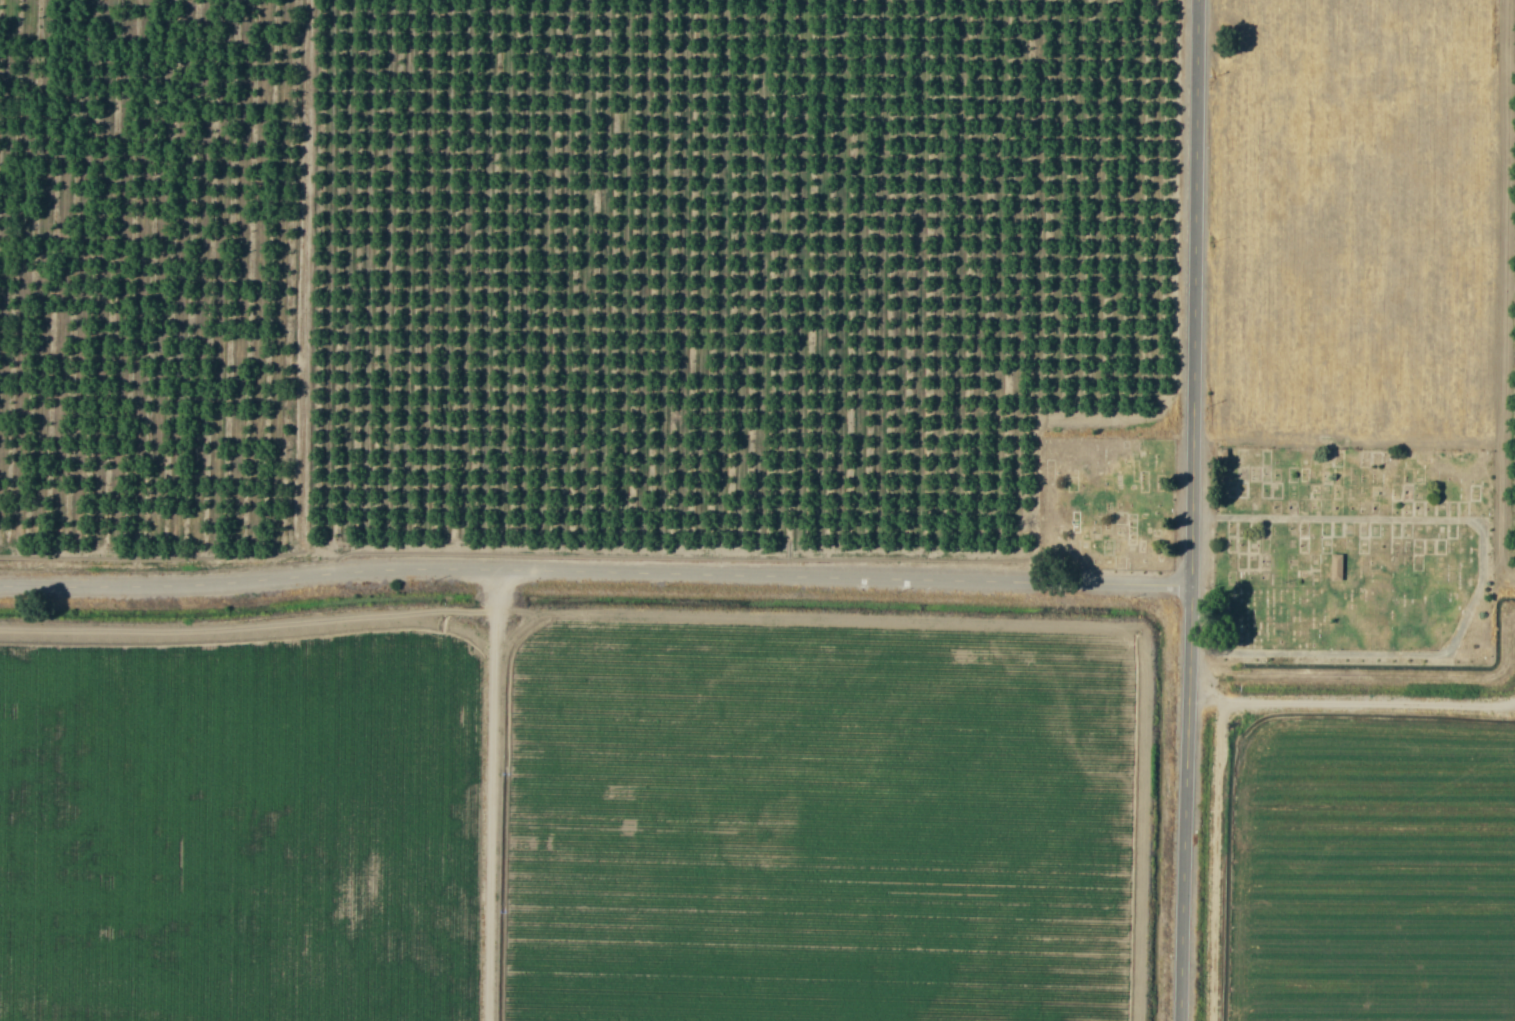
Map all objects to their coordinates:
road: (1200, 510)
park: (1292, 538)
building: (1335, 568)
road: (599, 574)

